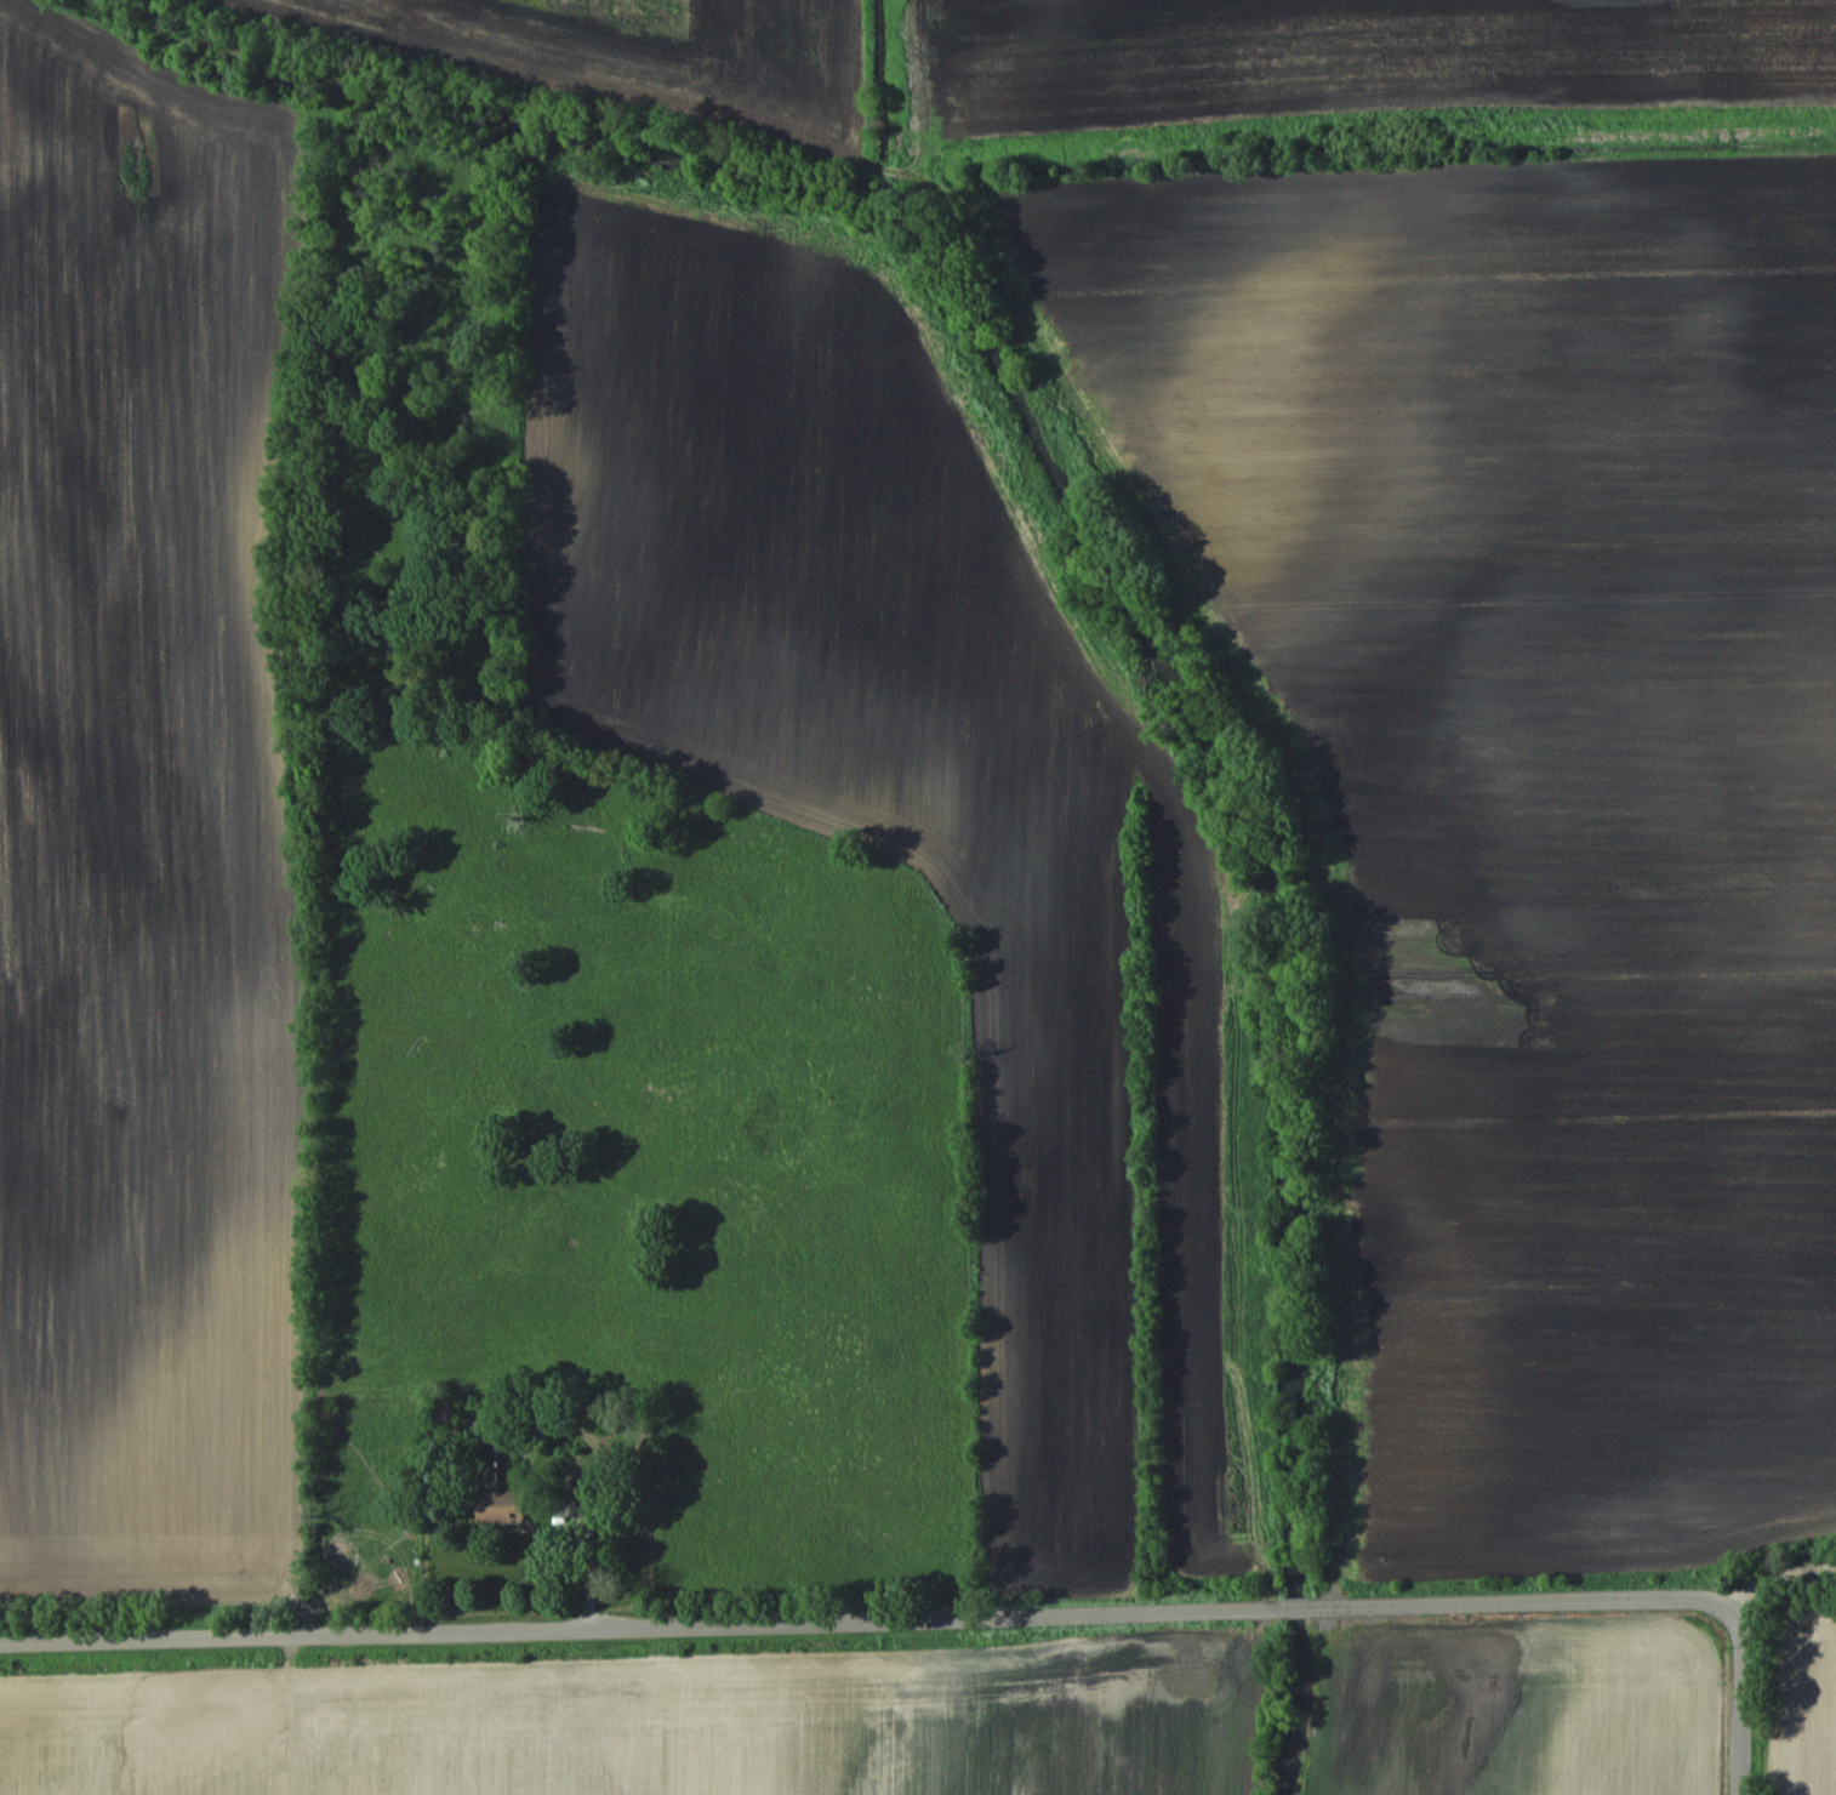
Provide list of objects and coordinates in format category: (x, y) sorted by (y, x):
crop: (150, 828)
building: (502, 1506)
road: (1777, 1597)
road: (877, 1622)
road: (1741, 1714)
crop: (656, 1722)

